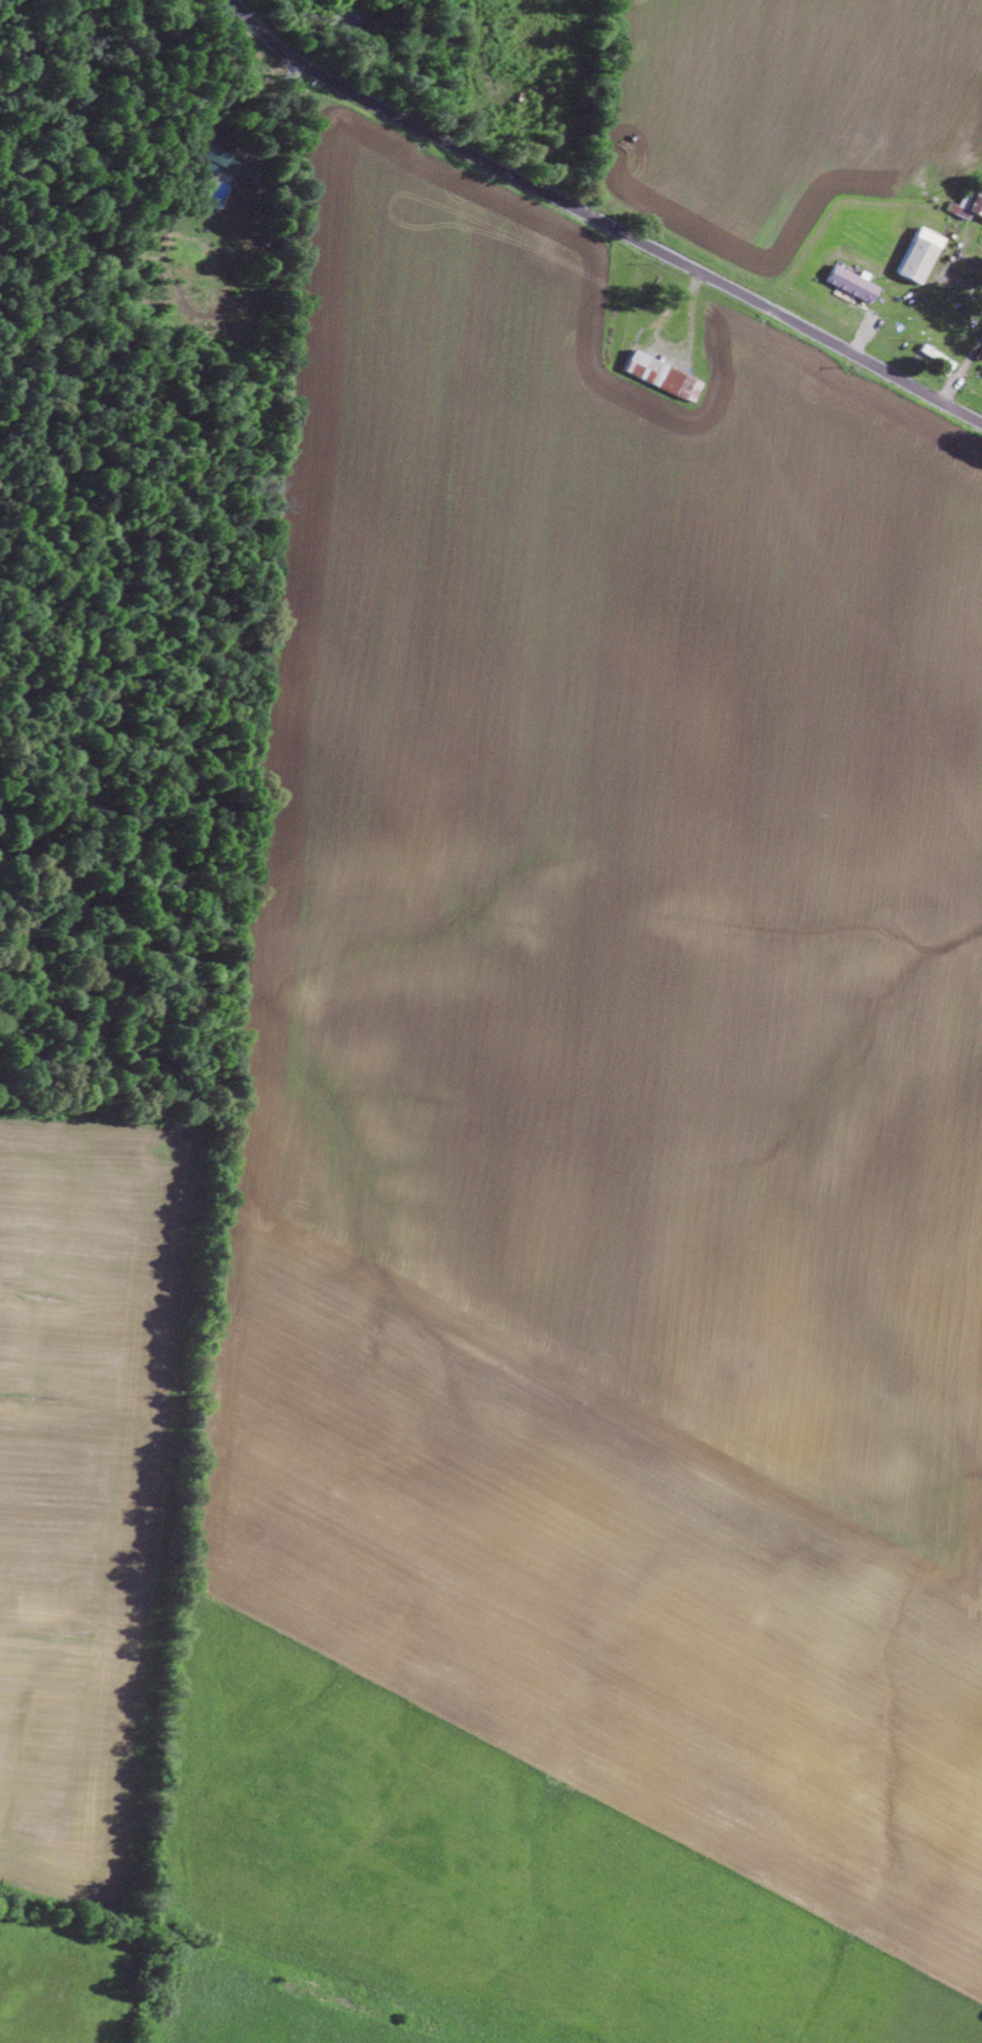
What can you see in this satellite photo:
building: (218, 161)
building: (969, 204)
road: (601, 221)
building: (922, 255)
building: (855, 284)
building: (939, 358)
building: (665, 377)

